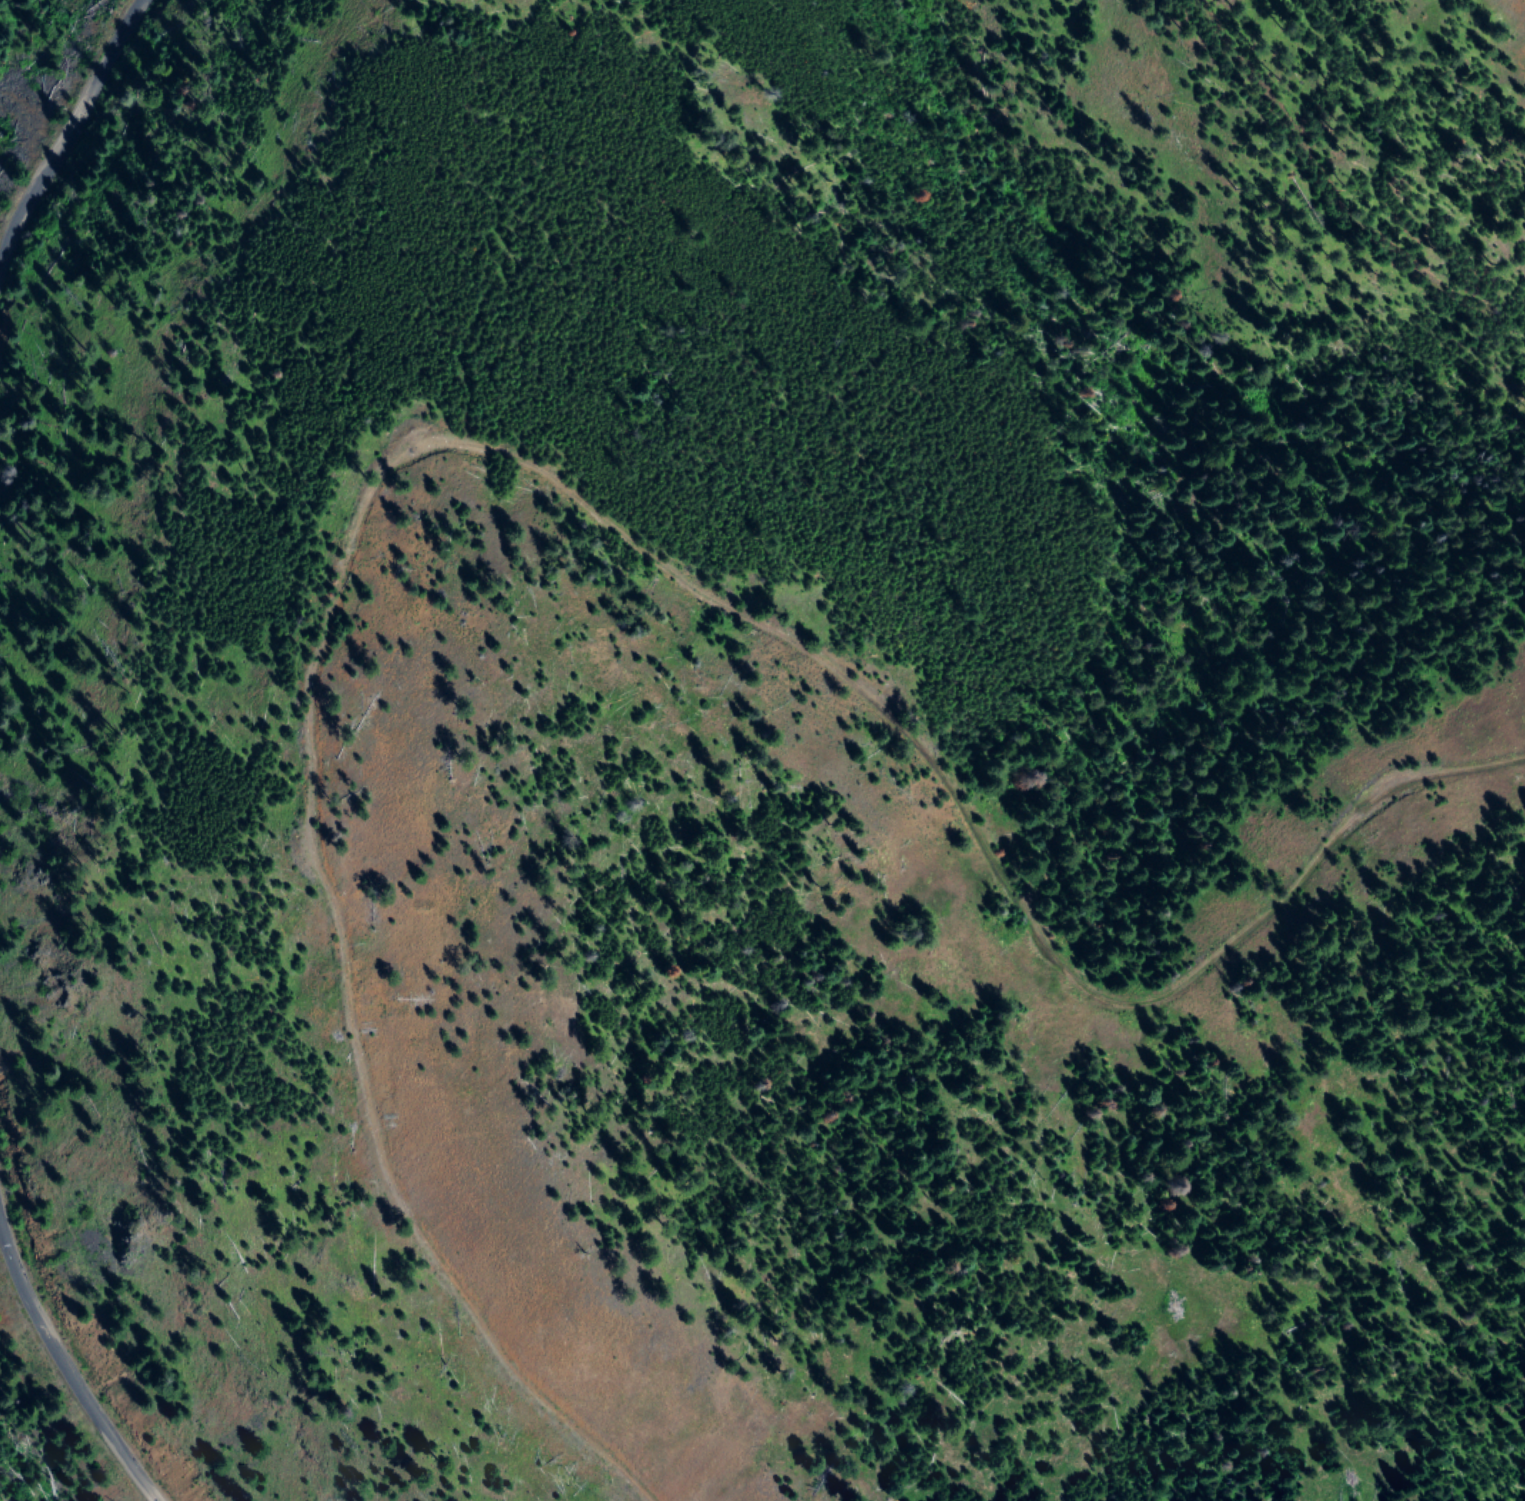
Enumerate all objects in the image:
road: (36, 67)
road: (554, 518)
road: (78, 1364)

